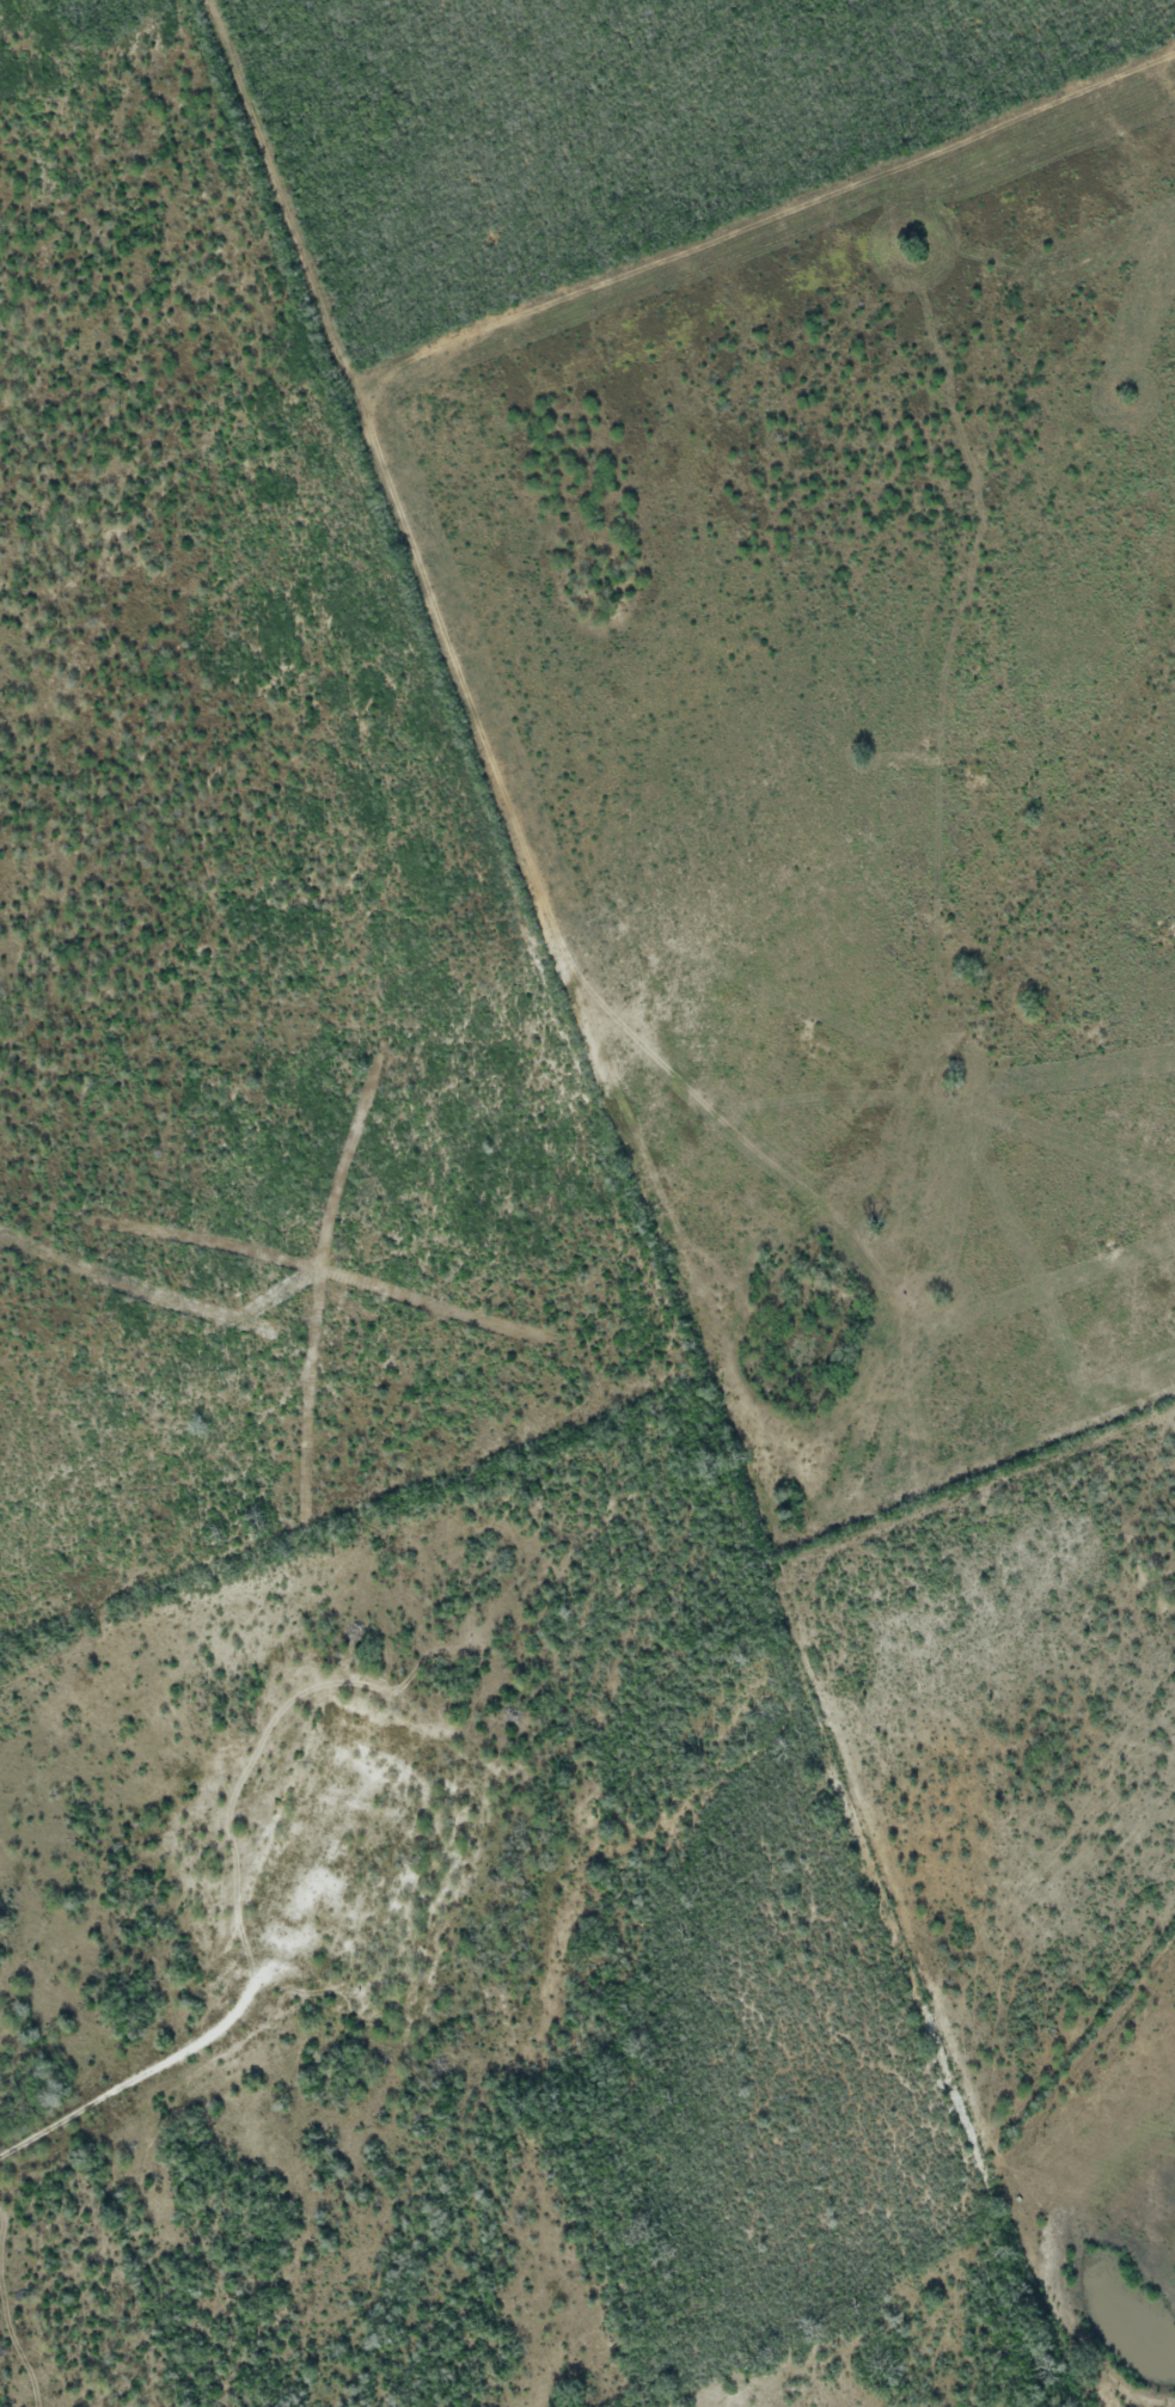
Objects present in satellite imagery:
road: (148, 2073)

